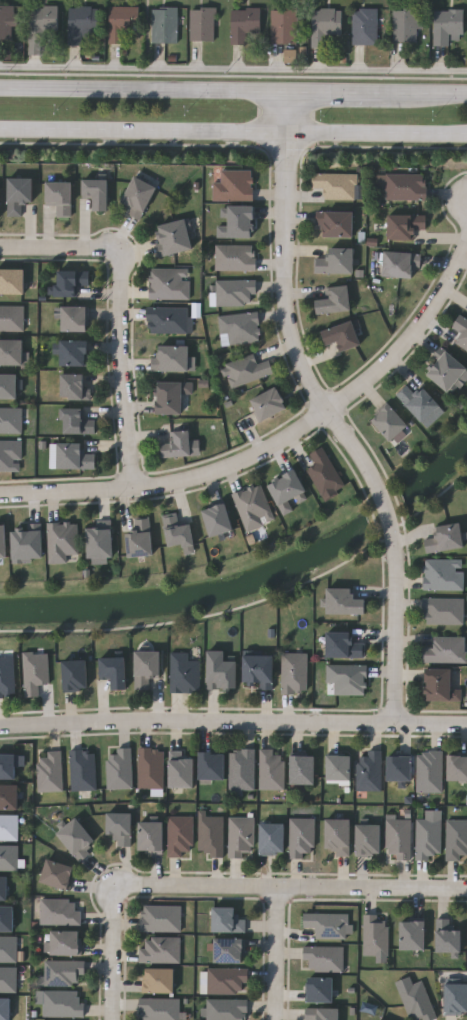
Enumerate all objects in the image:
building: (43, 19)
building: (7, 20)
building: (121, 21)
building: (202, 22)
building: (164, 23)
building: (408, 23)
building: (447, 23)
building: (83, 24)
building: (246, 24)
building: (284, 24)
building: (325, 24)
building: (365, 25)
road: (144, 89)
road: (336, 91)
road: (425, 92)
road: (288, 112)
road: (233, 132)
building: (234, 185)
building: (336, 185)
building: (403, 186)
building: (97, 193)
building: (19, 194)
building: (139, 196)
building: (60, 197)
building: (1, 204)
building: (237, 222)
building: (336, 224)
building: (405, 226)
building: (174, 236)
road: (65, 249)
building: (235, 257)
building: (336, 261)
building: (402, 264)
building: (12, 281)
building: (71, 281)
building: (169, 283)
building: (236, 292)
building: (336, 300)
building: (12, 317)
building: (76, 318)
building: (169, 320)
road: (288, 322)
building: (240, 328)
building: (461, 330)
building: (342, 335)
road: (411, 336)
building: (12, 351)
building: (74, 352)
building: (171, 358)
building: (248, 369)
building: (447, 371)
road: (123, 377)
building: (9, 385)
building: (74, 386)
building: (171, 395)
building: (270, 403)
building: (421, 403)
building: (11, 420)
building: (77, 421)
building: (392, 424)
building: (180, 445)
building: (10, 455)
building: (75, 456)
building: (324, 472)
road: (173, 483)
building: (288, 489)
building: (253, 507)
road: (388, 510)
building: (218, 519)
building: (178, 531)
building: (141, 538)
building: (446, 538)
building: (3, 541)
building: (63, 542)
building: (100, 542)
building: (28, 543)
building: (443, 573)
building: (345, 601)
building: (443, 610)
road: (396, 629)
building: (343, 645)
building: (446, 649)
building: (147, 667)
building: (115, 670)
building: (259, 670)
building: (35, 671)
building: (221, 671)
building: (184, 672)
building: (294, 672)
building: (75, 675)
building: (7, 676)
building: (348, 678)
building: (439, 684)
road: (233, 722)
building: (8, 766)
building: (212, 766)
building: (339, 767)
building: (120, 768)
building: (151, 768)
building: (457, 768)
building: (303, 769)
building: (400, 769)
building: (83, 770)
building: (242, 770)
building: (272, 770)
building: (50, 771)
building: (181, 771)
building: (369, 771)
building: (429, 771)
building: (9, 796)
building: (9, 827)
building: (120, 827)
building: (211, 834)
building: (430, 834)
building: (180, 836)
building: (241, 836)
building: (338, 836)
building: (152, 837)
building: (302, 837)
building: (77, 838)
building: (273, 838)
building: (399, 838)
building: (457, 838)
building: (369, 839)
building: (9, 856)
building: (58, 874)
road: (292, 887)
building: (4, 888)
building: (60, 911)
building: (7, 918)
building: (160, 918)
building: (227, 920)
building: (327, 925)
building: (375, 934)
building: (414, 935)
building: (448, 937)
building: (66, 943)
building: (8, 949)
building: (161, 949)
building: (230, 951)
road: (276, 953)
road: (114, 955)
building: (324, 958)
building: (63, 972)
building: (8, 979)
building: (159, 980)
building: (227, 980)
building: (320, 989)
building: (456, 999)
building: (418, 1002)
building: (61, 1003)
building: (5, 1009)
building: (160, 1009)
building: (227, 1009)
building: (322, 1014)

